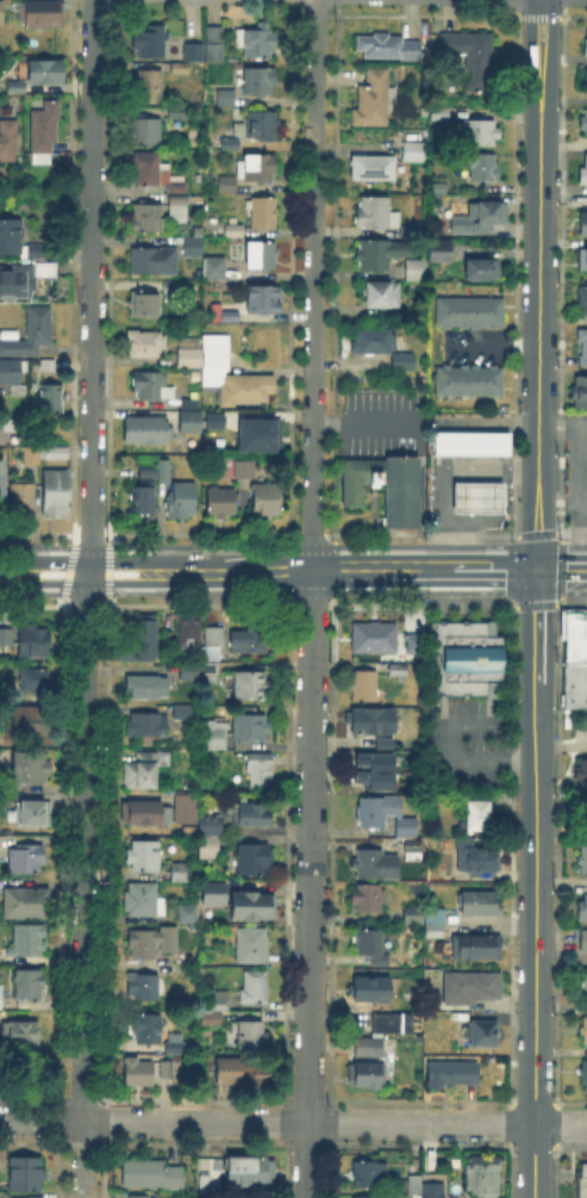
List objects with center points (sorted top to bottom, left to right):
building: (1, 13)
building: (42, 14)
building: (191, 30)
building: (150, 41)
building: (258, 43)
building: (214, 44)
building: (585, 46)
building: (389, 48)
building: (192, 49)
building: (472, 56)
building: (176, 66)
building: (45, 73)
building: (586, 77)
building: (260, 82)
building: (13, 85)
building: (150, 86)
building: (221, 95)
building: (375, 100)
building: (176, 110)
building: (439, 114)
building: (585, 124)
building: (261, 128)
building: (146, 131)
building: (44, 134)
building: (480, 134)
building: (8, 141)
building: (229, 142)
building: (414, 153)
building: (480, 167)
building: (375, 168)
building: (150, 170)
building: (256, 170)
building: (585, 179)
building: (226, 185)
building: (177, 201)
building: (264, 213)
building: (375, 215)
building: (145, 218)
building: (483, 219)
building: (585, 224)
building: (235, 231)
building: (11, 238)
building: (192, 248)
building: (37, 252)
building: (441, 252)
building: (379, 254)
building: (261, 256)
building: (582, 260)
building: (155, 262)
building: (39, 268)
building: (212, 271)
building: (417, 271)
building: (481, 271)
road: (539, 283)
building: (14, 285)
building: (173, 288)
building: (383, 296)
building: (263, 299)
building: (583, 300)
building: (144, 305)
building: (470, 315)
building: (231, 317)
building: (33, 334)
building: (146, 344)
building: (582, 346)
building: (382, 349)
building: (186, 356)
building: (48, 366)
building: (10, 372)
building: (227, 373)
building: (470, 383)
building: (152, 389)
building: (580, 393)
building: (51, 399)
building: (187, 401)
building: (187, 420)
building: (212, 420)
road: (367, 420)
building: (6, 430)
building: (148, 430)
building: (256, 434)
building: (473, 446)
building: (60, 452)
building: (32, 457)
building: (246, 470)
building: (166, 471)
building: (149, 473)
building: (2, 490)
building: (56, 494)
building: (401, 495)
building: (144, 498)
building: (477, 499)
gas station: (477, 499)
building: (23, 501)
building: (267, 501)
building: (182, 502)
building: (223, 504)
road: (574, 529)
road: (36, 533)
road: (89, 533)
road: (198, 533)
road: (310, 533)
road: (420, 533)
road: (536, 533)
road: (460, 545)
road: (32, 546)
road: (89, 546)
road: (201, 546)
road: (311, 546)
road: (560, 566)
road: (562, 566)
road: (65, 567)
road: (108, 567)
road: (288, 567)
road: (332, 567)
traffic signals: (538, 567)
road: (425, 569)
road: (156, 570)
road: (461, 590)
road: (31, 591)
road: (198, 591)
road: (310, 591)
road: (87, 592)
road: (86, 598)
road: (312, 598)
road: (423, 602)
road: (198, 603)
road: (310, 603)
road: (573, 603)
road: (30, 604)
road: (85, 604)
road: (536, 604)
building: (189, 635)
building: (370, 635)
building: (6, 638)
building: (145, 640)
building: (416, 640)
building: (35, 643)
building: (214, 643)
building: (249, 643)
building: (437, 659)
building: (473, 659)
building: (575, 660)
building: (189, 671)
building: (399, 671)
building: (210, 672)
building: (35, 682)
building: (250, 687)
building: (148, 688)
building: (367, 689)
building: (185, 713)
building: (374, 721)
building: (32, 722)
building: (146, 724)
building: (250, 728)
building: (213, 735)
road: (449, 744)
building: (30, 769)
building: (143, 771)
building: (261, 771)
building: (376, 771)
building: (582, 775)
building: (502, 800)
building: (185, 808)
building: (35, 813)
building: (373, 813)
building: (146, 815)
building: (250, 815)
building: (476, 818)
building: (407, 830)
building: (211, 837)
building: (414, 850)
building: (144, 856)
building: (254, 858)
building: (25, 859)
building: (477, 861)
building: (583, 861)
building: (375, 865)
building: (176, 870)
road: (535, 882)
building: (210, 892)
building: (368, 899)
building: (144, 901)
building: (480, 905)
building: (27, 906)
building: (249, 906)
building: (185, 911)
building: (582, 911)
building: (411, 912)
building: (431, 914)
building: (430, 929)
building: (166, 937)
building: (27, 941)
building: (583, 942)
building: (138, 943)
building: (368, 943)
building: (251, 945)
building: (476, 948)
building: (380, 961)
building: (31, 985)
building: (143, 985)
building: (255, 987)
building: (371, 989)
building: (472, 989)
building: (585, 991)
building: (1, 992)
building: (219, 1001)
building: (207, 1017)
building: (213, 1023)
building: (387, 1024)
building: (148, 1029)
building: (583, 1031)
building: (481, 1033)
building: (20, 1035)
building: (251, 1038)
building: (369, 1048)
building: (176, 1050)
building: (168, 1070)
building: (138, 1073)
building: (230, 1073)
building: (583, 1073)
building: (454, 1074)
building: (368, 1075)
building: (258, 1076)
road: (293, 1124)
building: (251, 1172)
building: (151, 1174)
building: (367, 1174)
building: (26, 1175)
building: (483, 1178)
building: (581, 1183)
building: (206, 1184)
building: (412, 1186)
building: (433, 1191)
building: (135, 1196)
building: (24, 1197)
building: (367, 1197)

